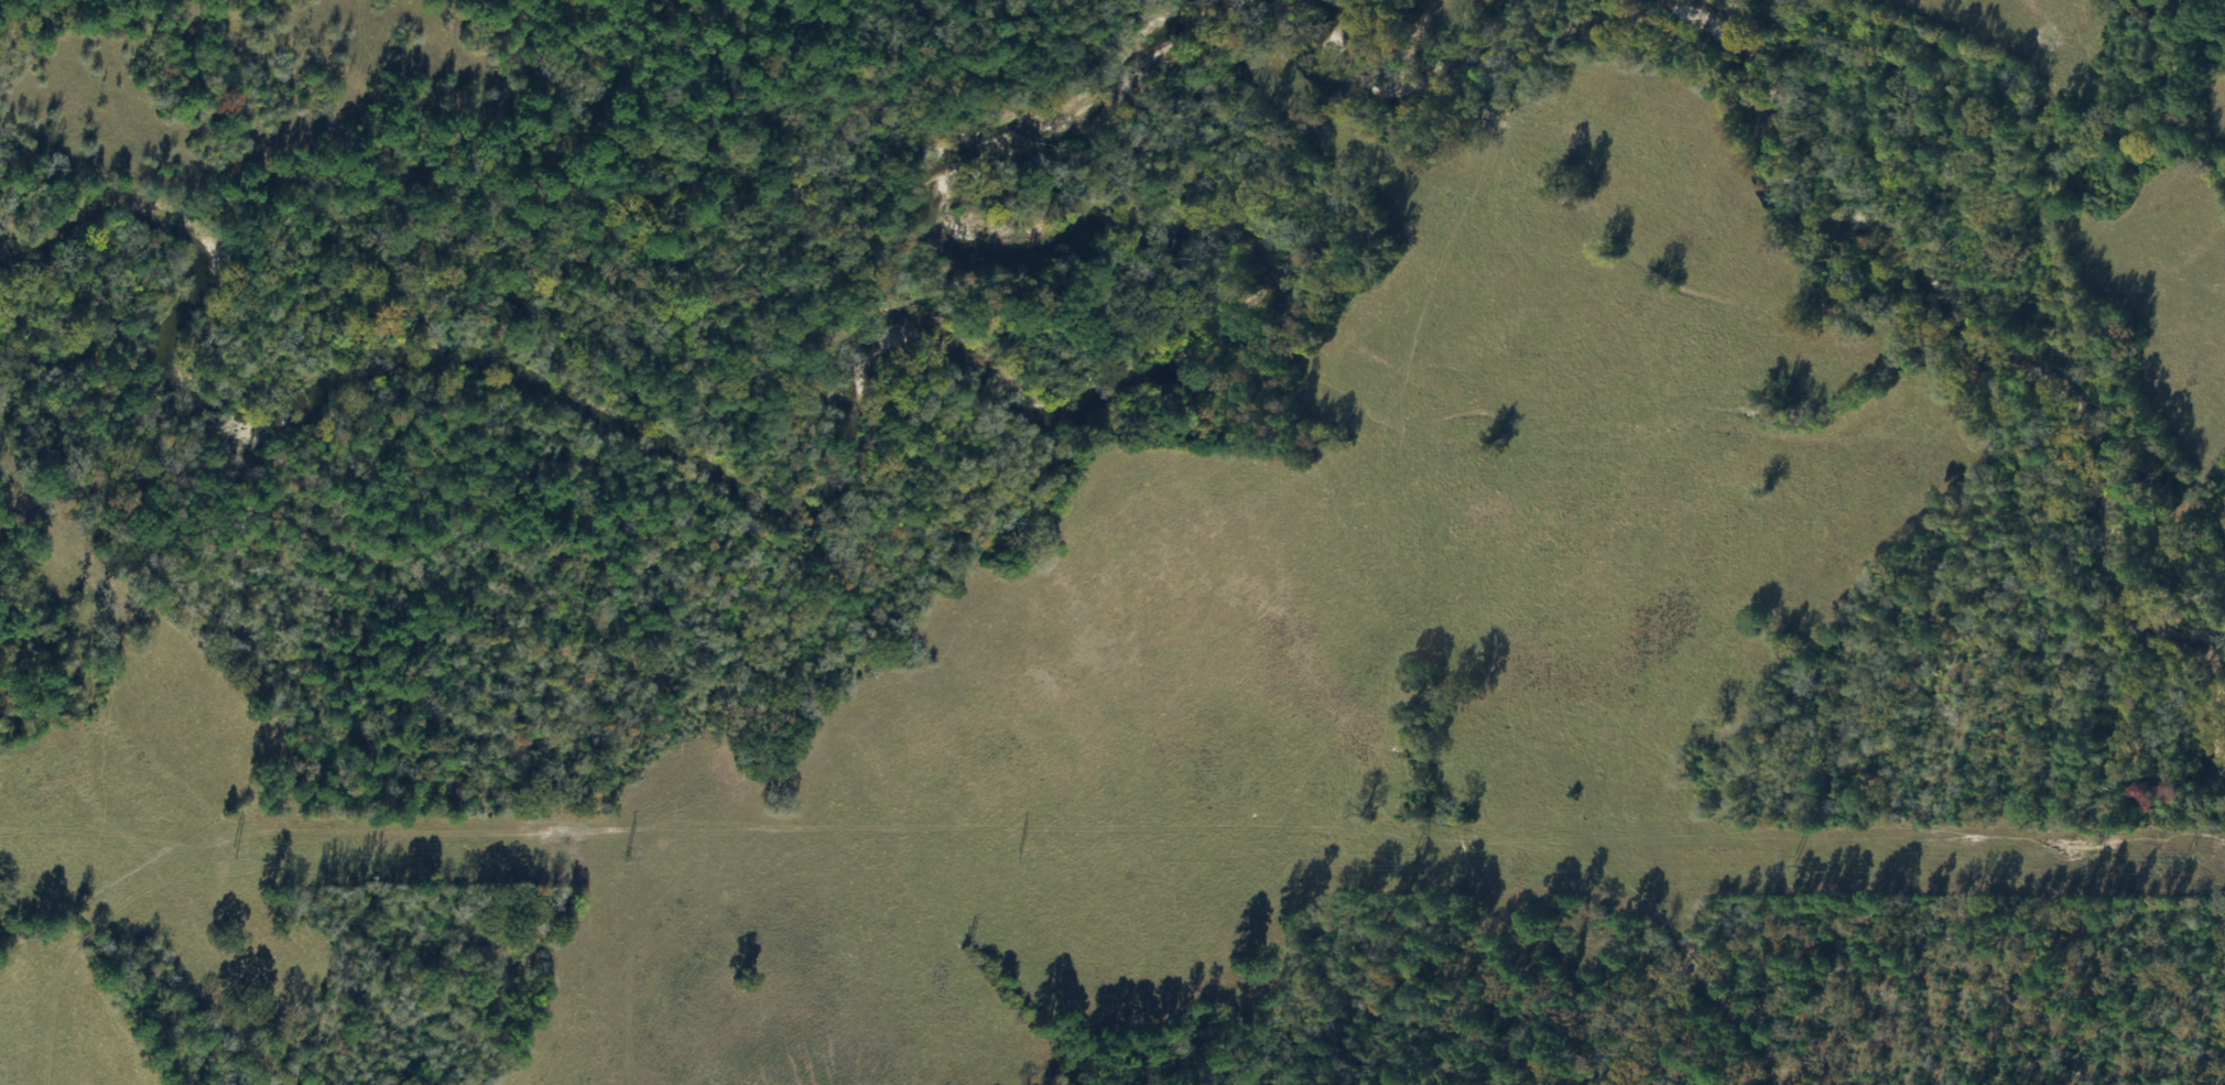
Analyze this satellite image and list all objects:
power tower: (225, 851)
power tower: (629, 853)
power tower: (1408, 856)
power tower: (1020, 858)
power tower: (2183, 859)
power tower: (1792, 860)

